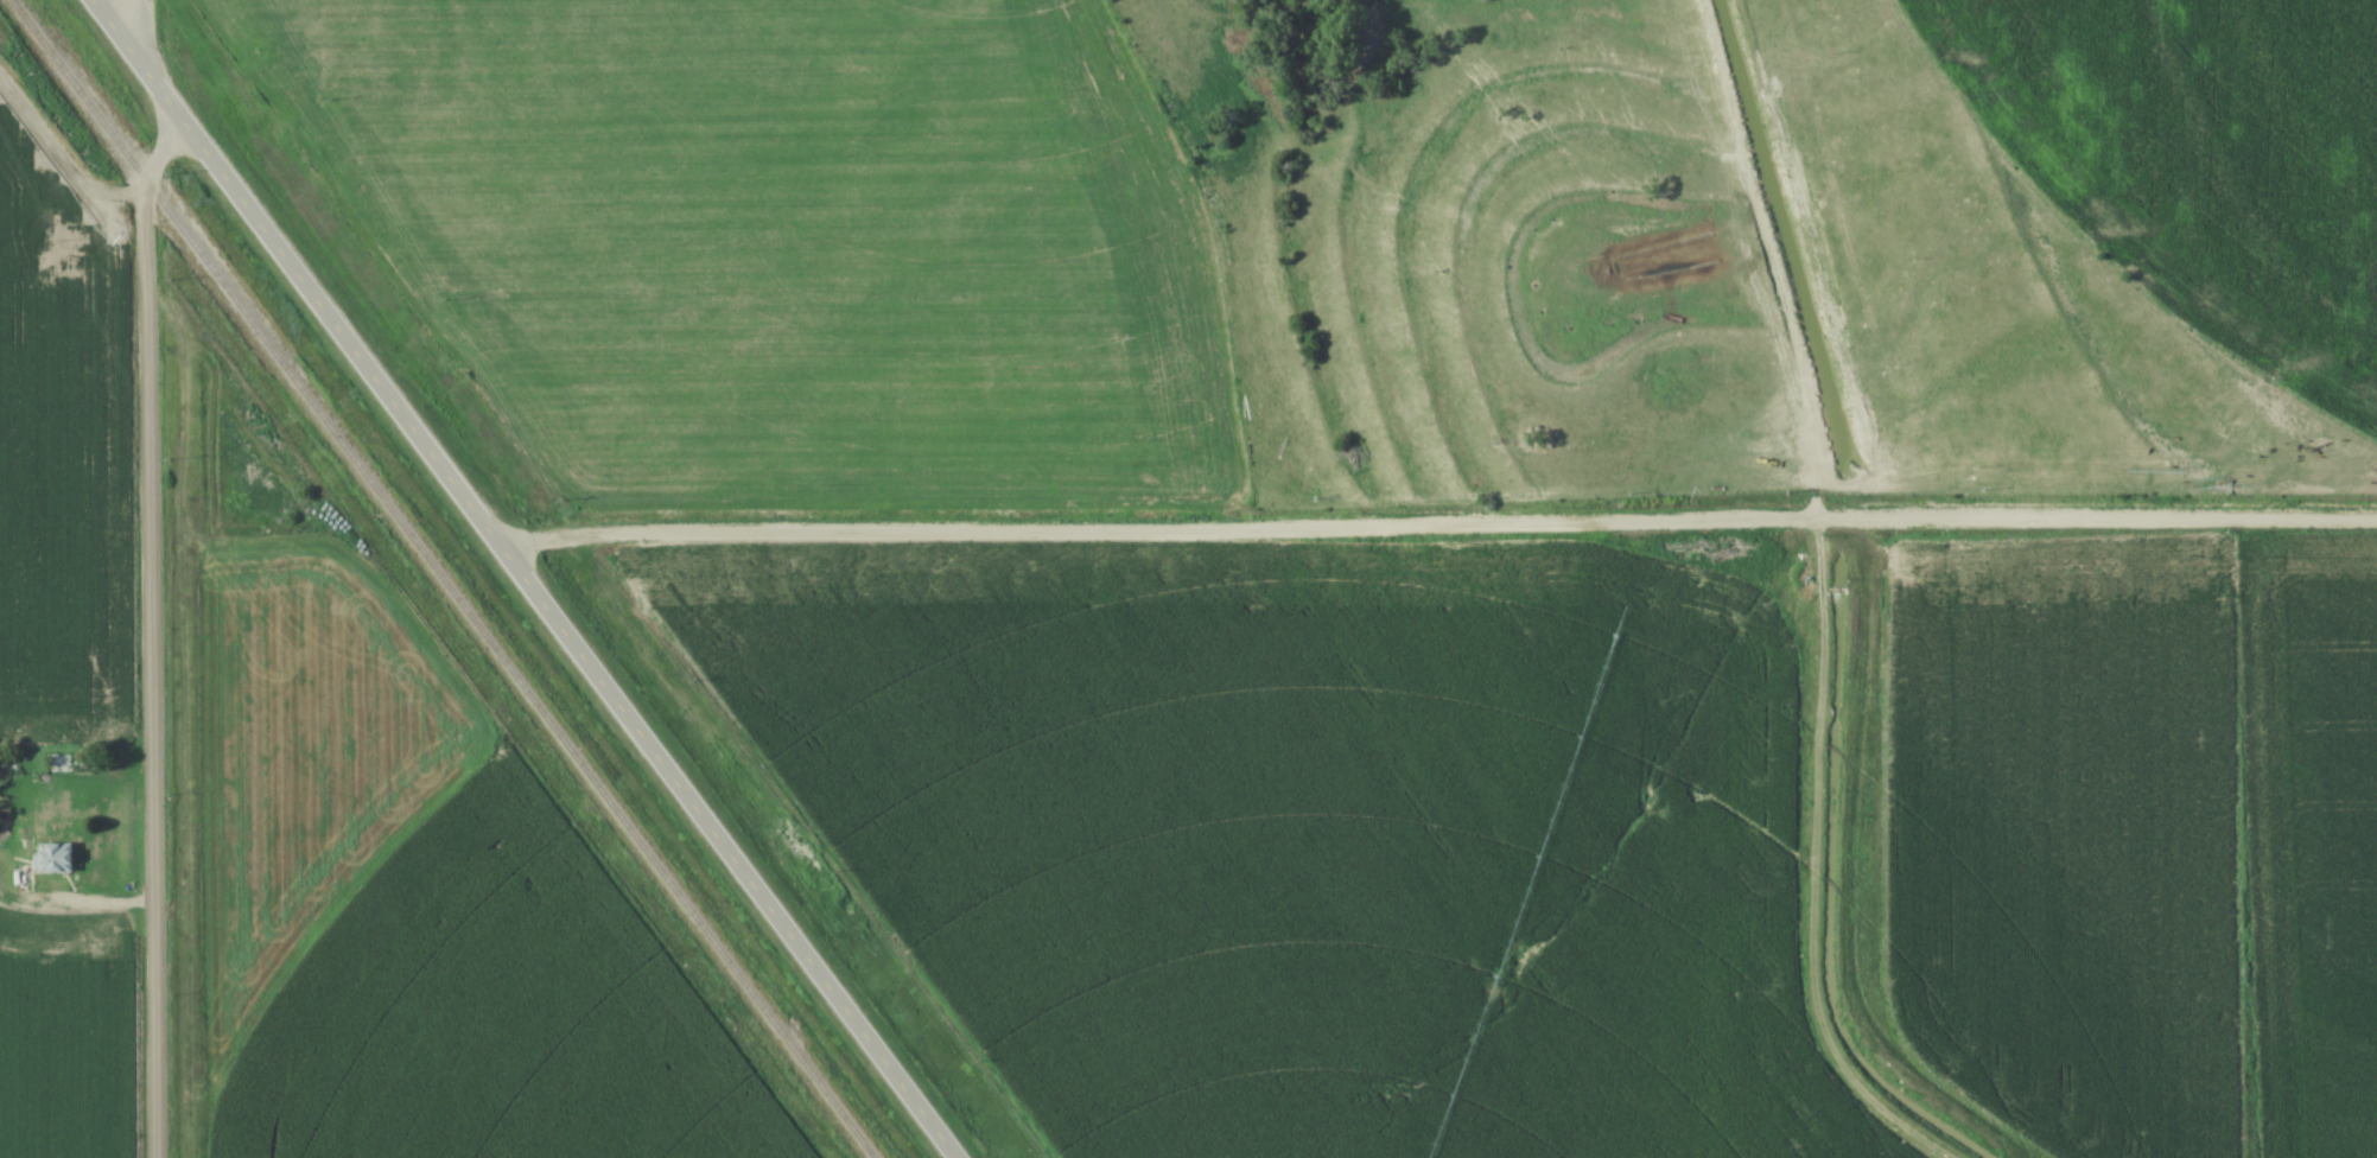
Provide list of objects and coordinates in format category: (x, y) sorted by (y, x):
road: (145, 33)
road: (1441, 529)
railway: (445, 578)
road: (528, 578)
road: (146, 635)
building: (53, 859)
road: (77, 903)

